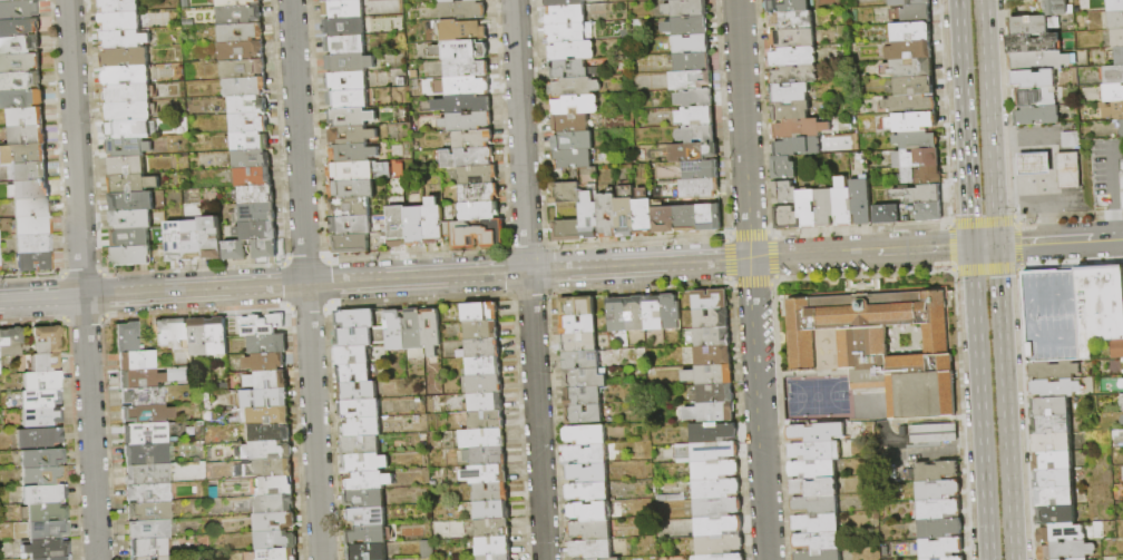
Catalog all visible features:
building: (10, 0)
building: (341, 0)
building: (666, 0)
building: (459, 1)
building: (565, 2)
building: (909, 2)
building: (236, 3)
building: (119, 6)
building: (789, 6)
building: (1115, 6)
building: (381, 7)
building: (1057, 8)
building: (19, 9)
building: (344, 9)
building: (687, 9)
building: (465, 10)
building: (917, 13)
building: (240, 14)
building: (566, 16)
building: (1116, 20)
building: (121, 21)
building: (792, 21)
building: (379, 23)
building: (1034, 24)
building: (345, 27)
building: (689, 27)
building: (19, 28)
building: (463, 30)
building: (241, 32)
building: (569, 32)
building: (912, 32)
building: (1117, 38)
building: (125, 39)
building: (793, 39)
building: (1034, 43)
building: (692, 45)
building: (19, 46)
building: (346, 46)
building: (242, 50)
building: (460, 50)
building: (573, 51)
building: (909, 51)
building: (1120, 56)
building: (126, 57)
building: (793, 57)
building: (1042, 60)
building: (693, 62)
building: (20, 63)
building: (351, 63)
building: (467, 68)
building: (910, 68)
building: (243, 69)
building: (569, 69)
building: (794, 75)
building: (1112, 75)
building: (128, 76)
building: (692, 80)
building: (1035, 80)
building: (20, 81)
building: (348, 81)
building: (467, 86)
building: (915, 86)
building: (246, 87)
building: (575, 87)
building: (128, 94)
building: (791, 94)
building: (1112, 94)
building: (696, 98)
building: (1035, 98)
building: (22, 99)
building: (349, 99)
building: (248, 105)
building: (463, 105)
building: (576, 105)
building: (910, 105)
building: (791, 110)
building: (1113, 110)
building: (128, 111)
building: (697, 116)
building: (1037, 116)
building: (28, 117)
building: (352, 117)
building: (468, 122)
building: (572, 122)
building: (914, 122)
road: (964, 122)
road: (988, 122)
building: (250, 124)
building: (129, 129)
road: (743, 129)
building: (801, 129)
building: (1122, 132)
building: (697, 134)
building: (29, 135)
building: (353, 135)
building: (472, 139)
road: (1016, 139)
building: (917, 140)
building: (1067, 140)
building: (251, 141)
building: (574, 141)
building: (798, 147)
building: (129, 148)
building: (29, 153)
building: (694, 153)
building: (354, 154)
building: (467, 158)
building: (573, 158)
building: (917, 158)
building: (252, 159)
building: (1034, 164)
gas station: (1034, 164)
building: (127, 166)
building: (784, 168)
building: (702, 170)
building: (30, 171)
building: (352, 171)
building: (1065, 171)
parking lot: (1104, 174)
building: (478, 175)
building: (922, 176)
road: (1110, 176)
building: (254, 177)
building: (133, 184)
building: (701, 188)
building: (31, 189)
building: (353, 189)
building: (566, 193)
building: (785, 193)
building: (479, 194)
building: (257, 195)
building: (919, 195)
building: (133, 202)
building: (862, 202)
building: (844, 203)
building: (31, 207)
building: (351, 207)
building: (826, 207)
building: (808, 208)
building: (188, 210)
building: (480, 212)
building: (930, 212)
building: (258, 213)
building: (590, 215)
building: (608, 215)
building: (887, 215)
building: (645, 216)
building: (626, 217)
building: (711, 218)
building: (787, 218)
building: (131, 219)
building: (687, 219)
building: (665, 220)
building: (436, 223)
road: (1113, 225)
building: (33, 226)
building: (352, 226)
building: (399, 226)
building: (417, 226)
building: (257, 230)
building: (568, 230)
building: (478, 234)
building: (212, 237)
building: (131, 238)
building: (175, 240)
building: (194, 240)
road: (1058, 242)
building: (35, 243)
building: (352, 244)
road: (983, 246)
traffic signals: (995, 246)
traffic signals: (970, 247)
building: (266, 249)
building: (236, 250)
road: (860, 253)
building: (133, 256)
building: (35, 261)
building: (0, 264)
road: (82, 279)
road: (304, 279)
road: (528, 279)
road: (375, 281)
building: (711, 299)
building: (578, 306)
building: (481, 312)
building: (654, 312)
building: (672, 312)
building: (1073, 313)
building: (636, 314)
building: (617, 315)
building: (712, 318)
building: (357, 320)
building: (263, 325)
building: (579, 325)
building: (414, 330)
building: (396, 331)
building: (432, 331)
building: (482, 331)
building: (173, 332)
building: (127, 336)
building: (199, 337)
building: (218, 337)
building: (354, 337)
building: (713, 337)
building: (48, 338)
building: (11, 341)
building: (580, 343)
building: (268, 344)
building: (882, 346)
building: (482, 348)
building: (353, 355)
building: (713, 356)
building: (137, 360)
building: (582, 360)
building: (47, 362)
building: (265, 362)
building: (484, 366)
building: (0, 369)
building: (1054, 371)
building: (354, 373)
building: (711, 375)
building: (140, 377)
road: (848, 377)
building: (585, 379)
building: (42, 380)
building: (1122, 380)
building: (268, 381)
building: (482, 384)
building: (1122, 385)
building: (1055, 389)
building: (358, 392)
building: (716, 393)
building: (144, 395)
building: (584, 396)
park: (814, 396)
building: (264, 397)
building: (41, 399)
building: (485, 403)
road: (979, 403)
road: (1003, 403)
building: (1122, 403)
building: (1051, 407)
building: (361, 409)
road: (758, 410)
building: (711, 412)
building: (148, 413)
building: (585, 414)
building: (266, 415)
building: (42, 416)
building: (487, 421)
building: (1122, 421)
building: (1052, 426)
building: (362, 428)
building: (712, 432)
building: (817, 432)
building: (930, 432)
building: (145, 433)
building: (271, 433)
building: (586, 435)
building: (39, 438)
building: (484, 439)
building: (1053, 443)
building: (362, 445)
building: (266, 451)
building: (715, 451)
building: (816, 451)
building: (146, 453)
building: (587, 454)
building: (485, 456)
building: (43, 458)
building: (1054, 461)
building: (367, 463)
building: (268, 469)
building: (813, 469)
building: (715, 470)
building: (937, 471)
building: (148, 474)
building: (485, 474)
building: (588, 474)
building: (43, 475)
building: (1054, 480)
building: (368, 481)
building: (274, 487)
building: (814, 488)
building: (715, 489)
building: (939, 490)
building: (148, 492)
building: (491, 492)
building: (589, 492)
building: (43, 493)
building: (1055, 498)
building: (367, 499)
building: (275, 503)
building: (816, 505)
building: (717, 508)
building: (939, 509)
building: (492, 510)
building: (149, 511)
building: (48, 512)
building: (590, 512)
building: (1056, 515)
building: (368, 517)
building: (275, 522)
building: (817, 523)
building: (719, 527)
building: (941, 527)
building: (492, 528)
building: (149, 529)
building: (49, 530)
building: (592, 530)
building: (1062, 533)
building: (368, 536)
building: (276, 541)
building: (818, 541)
building: (720, 544)
building: (494, 547)
building: (148, 548)
building: (941, 548)
building: (48, 549)
building: (592, 550)
building: (1067, 551)
building: (368, 552)
building: (279, 554)
building: (819, 554)
building: (722, 557)
building: (55, 558)
building: (140, 558)
building: (162, 558)
building: (496, 558)
building: (611, 559)
building: (947, 559)
building: (1082, 559)

